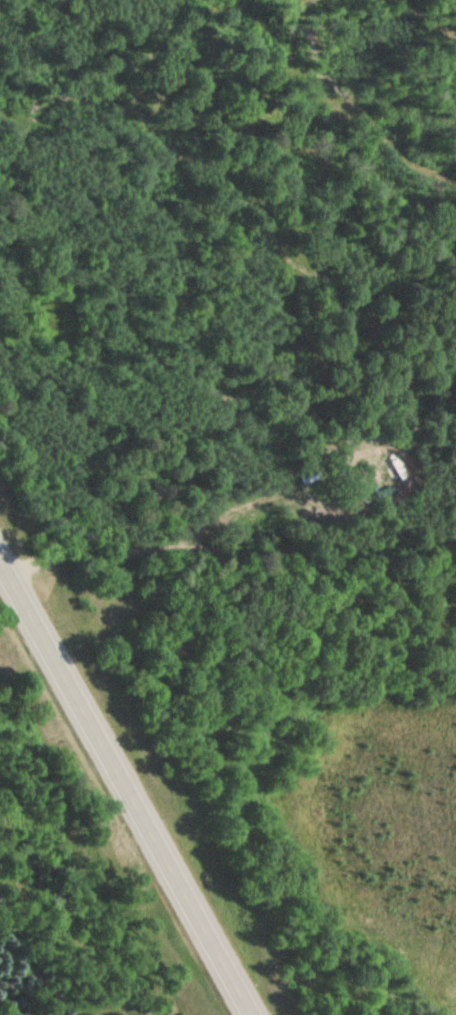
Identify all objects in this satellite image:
road: (128, 786)

